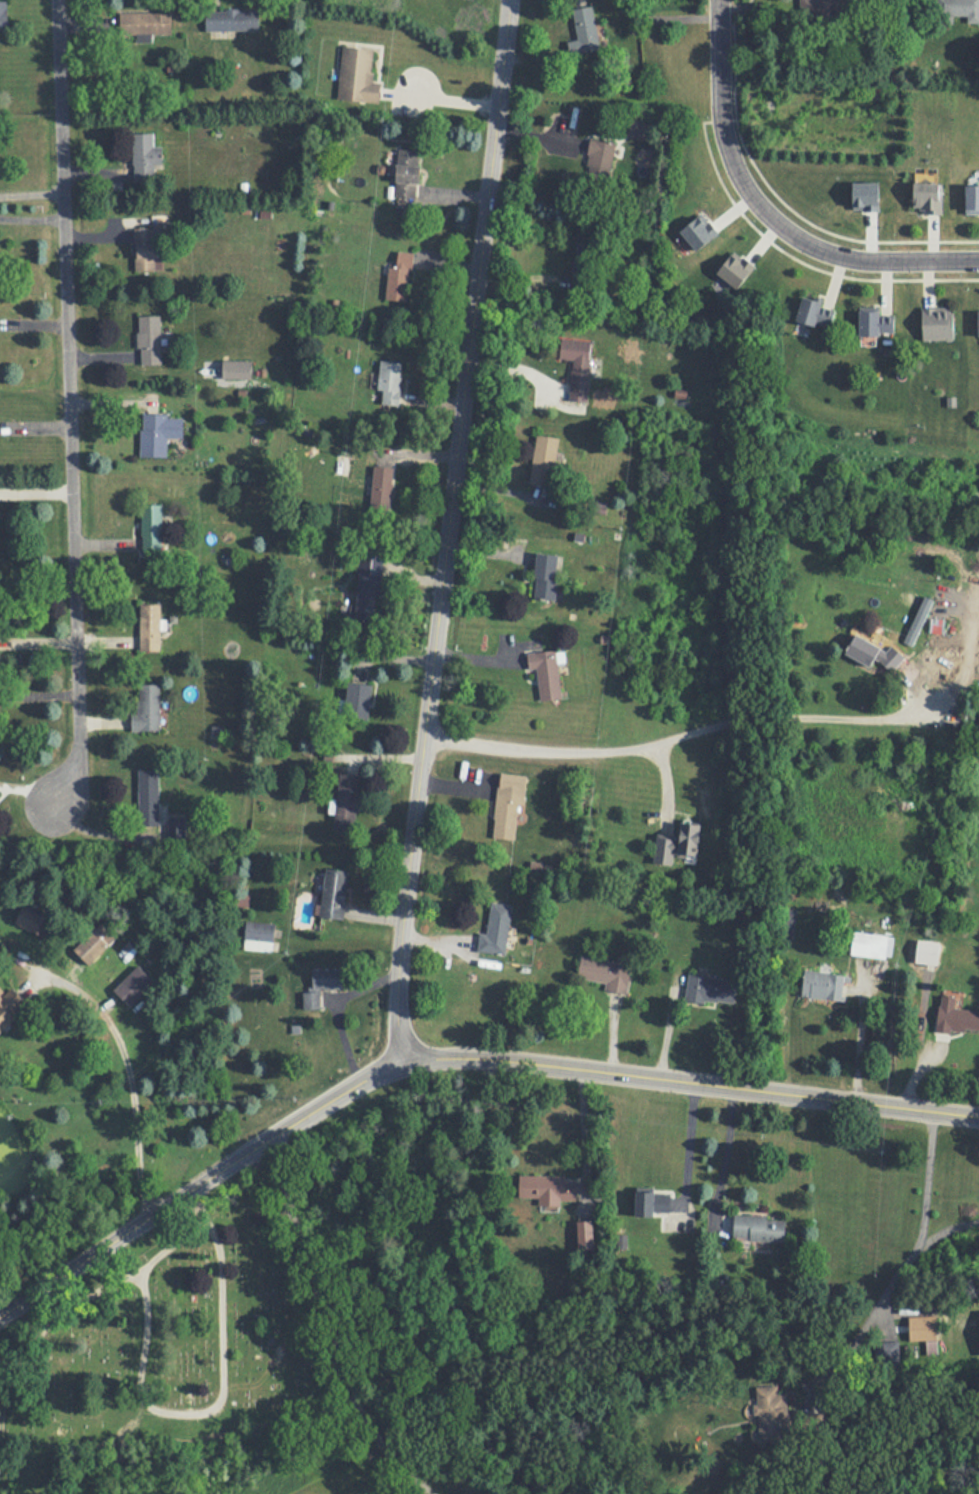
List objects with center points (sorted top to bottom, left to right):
building: (827, 5)
building: (958, 10)
building: (3, 16)
building: (232, 19)
building: (145, 23)
building: (585, 30)
building: (357, 76)
road: (445, 100)
building: (640, 129)
building: (147, 158)
building: (599, 159)
building: (408, 174)
building: (928, 196)
road: (32, 197)
building: (973, 198)
road: (766, 212)
building: (145, 249)
building: (583, 266)
building: (399, 278)
building: (817, 312)
building: (877, 322)
building: (938, 323)
building: (150, 340)
building: (578, 367)
building: (390, 383)
road: (69, 405)
building: (158, 435)
building: (544, 459)
building: (381, 488)
road: (35, 491)
road: (448, 527)
building: (150, 528)
building: (546, 576)
building: (368, 580)
building: (150, 628)
building: (874, 652)
building: (546, 673)
building: (358, 700)
building: (148, 708)
road: (668, 736)
building: (149, 799)
building: (348, 800)
building: (507, 811)
building: (679, 844)
building: (335, 893)
building: (34, 922)
building: (496, 930)
building: (260, 936)
building: (95, 943)
building: (871, 945)
building: (605, 973)
building: (134, 985)
building: (823, 985)
building: (322, 986)
building: (711, 989)
building: (10, 1007)
building: (956, 1016)
road: (859, 1042)
road: (691, 1080)
road: (127, 1084)
road: (583, 1128)
road: (689, 1140)
road: (727, 1148)
road: (199, 1182)
building: (547, 1189)
building: (653, 1202)
building: (759, 1227)
road: (907, 1264)
road: (104, 1283)
road: (332, 1326)
building: (924, 1333)
park: (162, 1346)
road: (216, 1401)
building: (770, 1412)

